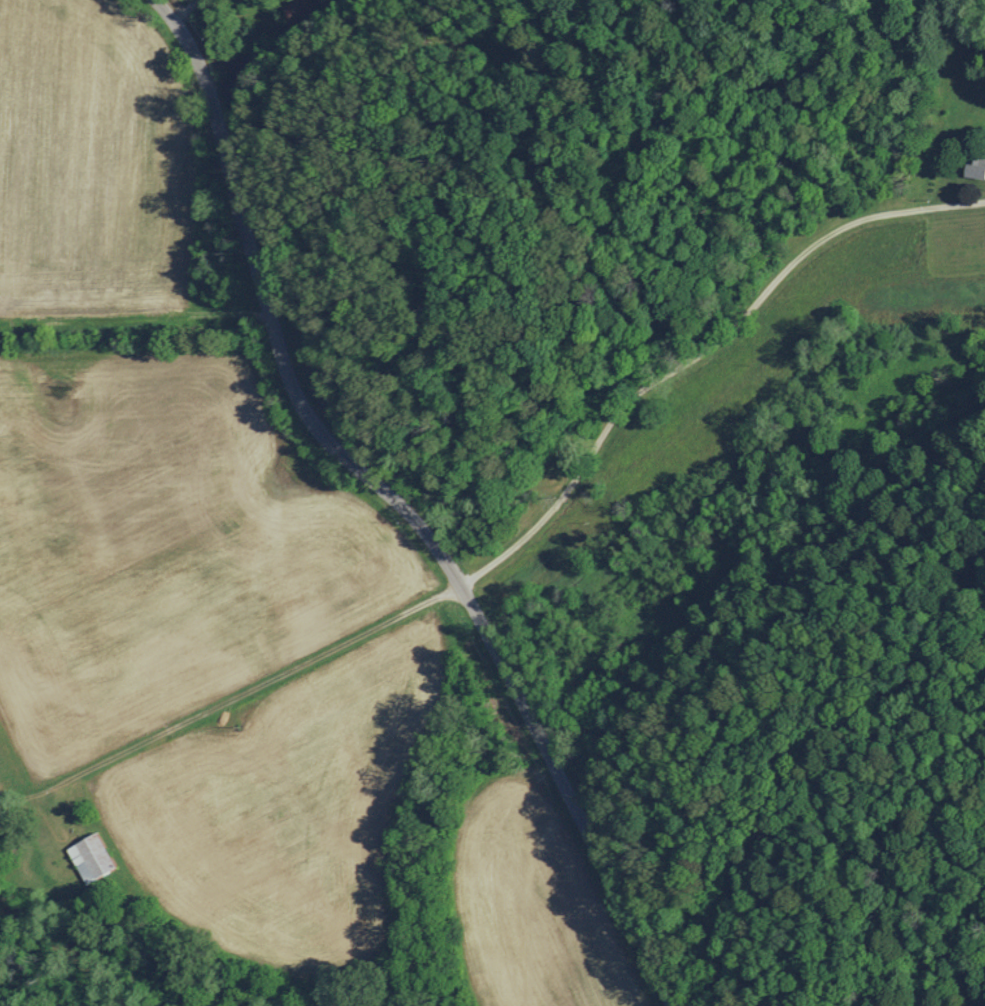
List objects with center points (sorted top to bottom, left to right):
road: (209, 11)
building: (975, 166)
road: (268, 317)
road: (524, 535)
road: (558, 801)
building: (91, 857)

